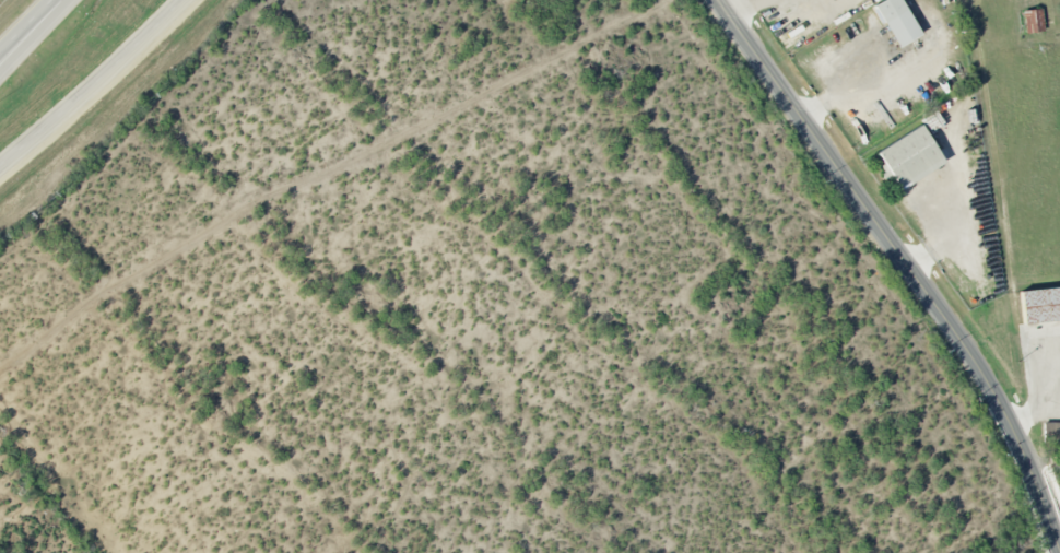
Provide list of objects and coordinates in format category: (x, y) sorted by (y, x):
road: (737, 8)
building: (1033, 20)
building: (896, 21)
road: (26, 26)
road: (34, 36)
road: (867, 79)
road: (90, 83)
building: (909, 156)
road: (906, 263)
building: (1040, 304)

